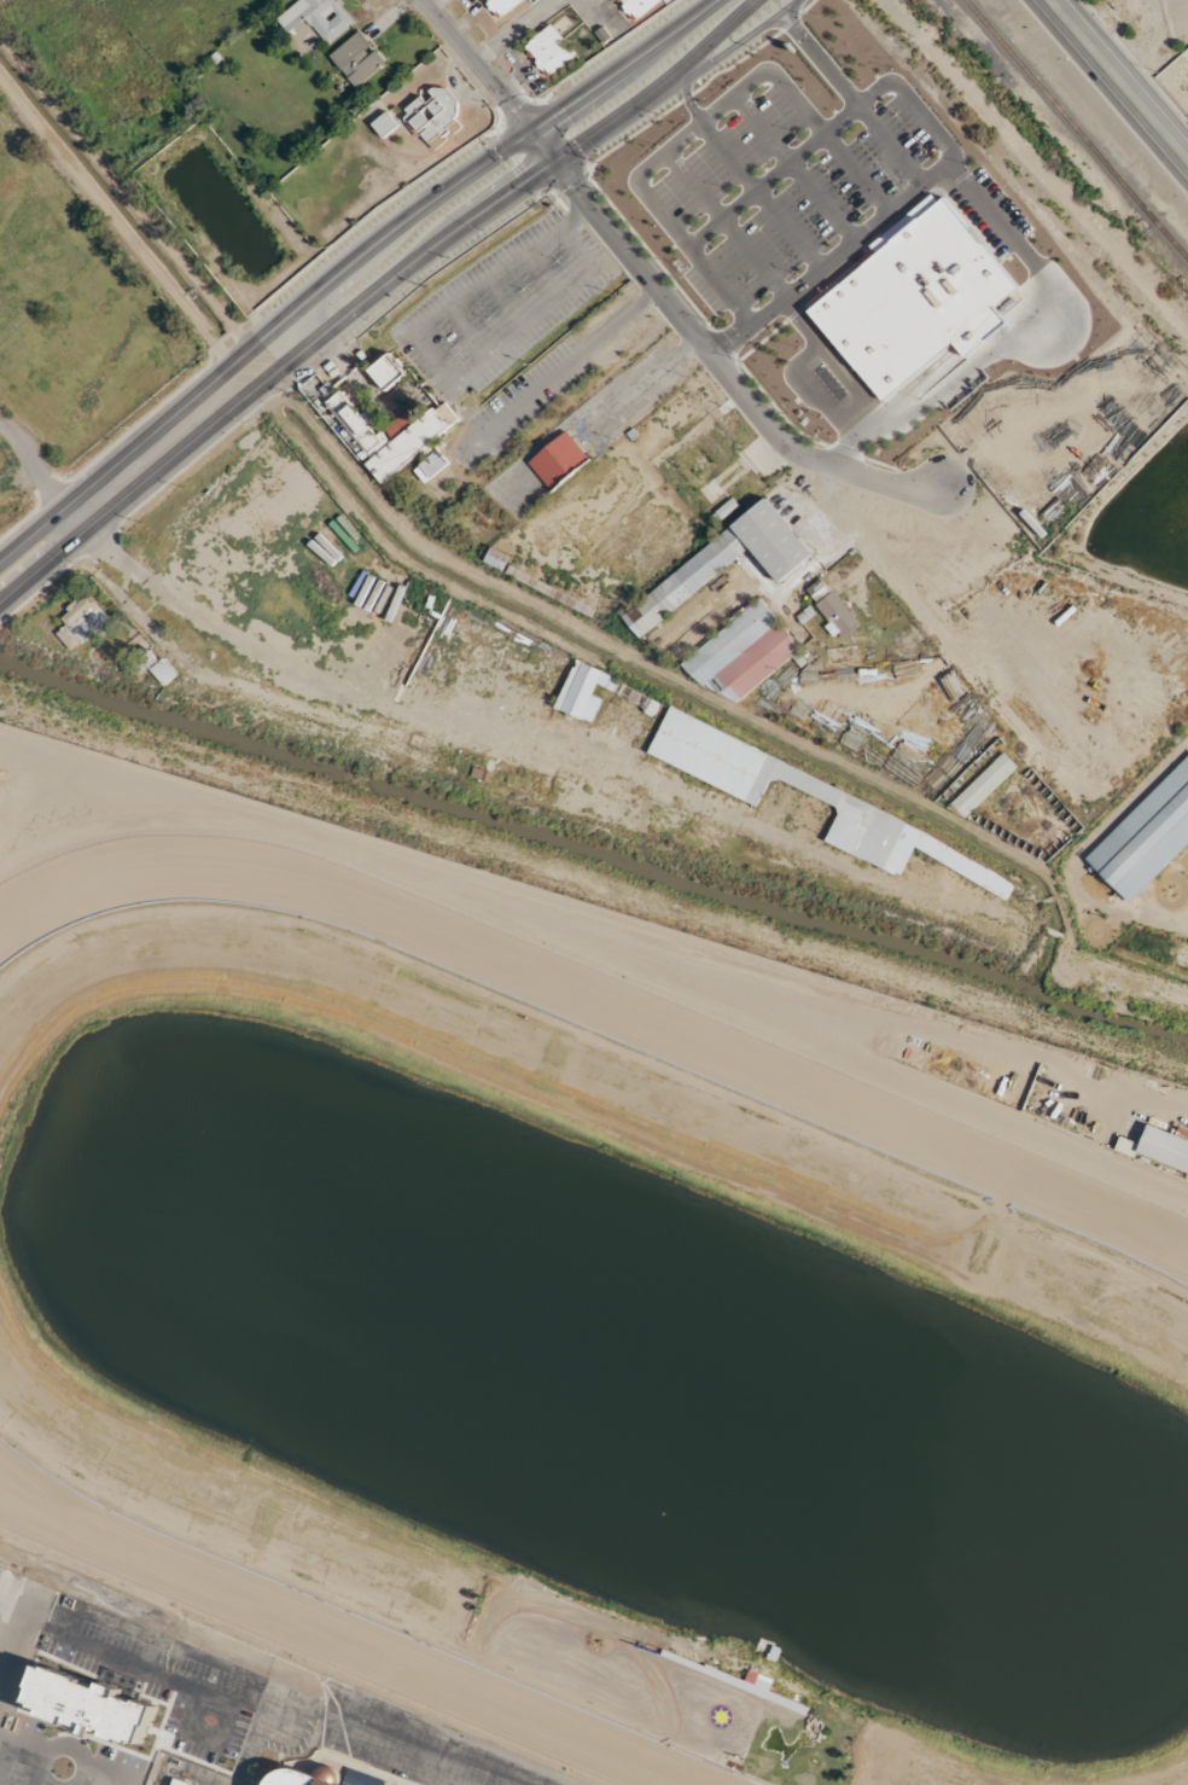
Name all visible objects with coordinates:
building: (502, 6)
building: (637, 6)
building: (315, 19)
road: (703, 42)
road: (729, 47)
building: (548, 50)
road: (822, 58)
building: (356, 59)
road: (473, 66)
road: (1119, 80)
road: (691, 98)
road: (915, 99)
railway: (1054, 101)
building: (432, 114)
road: (704, 123)
building: (384, 126)
traffic signals: (528, 133)
traffic signals: (551, 159)
railway: (1148, 213)
railway: (1171, 239)
road: (345, 263)
road: (802, 325)
road: (322, 333)
road: (1015, 339)
road: (707, 353)
road: (808, 355)
road: (436, 365)
building: (386, 371)
building: (394, 436)
building: (761, 459)
building: (558, 461)
road: (33, 464)
building: (430, 466)
building: (701, 471)
road: (75, 513)
building: (496, 559)
building: (721, 564)
building: (837, 616)
building: (80, 622)
building: (740, 653)
building: (162, 673)
building: (625, 692)
building: (983, 785)
building: (827, 793)
building: (1145, 836)
track: (575, 1013)
building: (1159, 1149)
fountain: (647, 1492)
fountain: (1024, 1583)
track: (334, 1633)
parking lot: (147, 1667)
building: (85, 1705)
road: (62, 1743)
road: (22, 1744)
road: (110, 1775)
road: (243, 1775)
building: (303, 1777)
road: (51, 1779)

